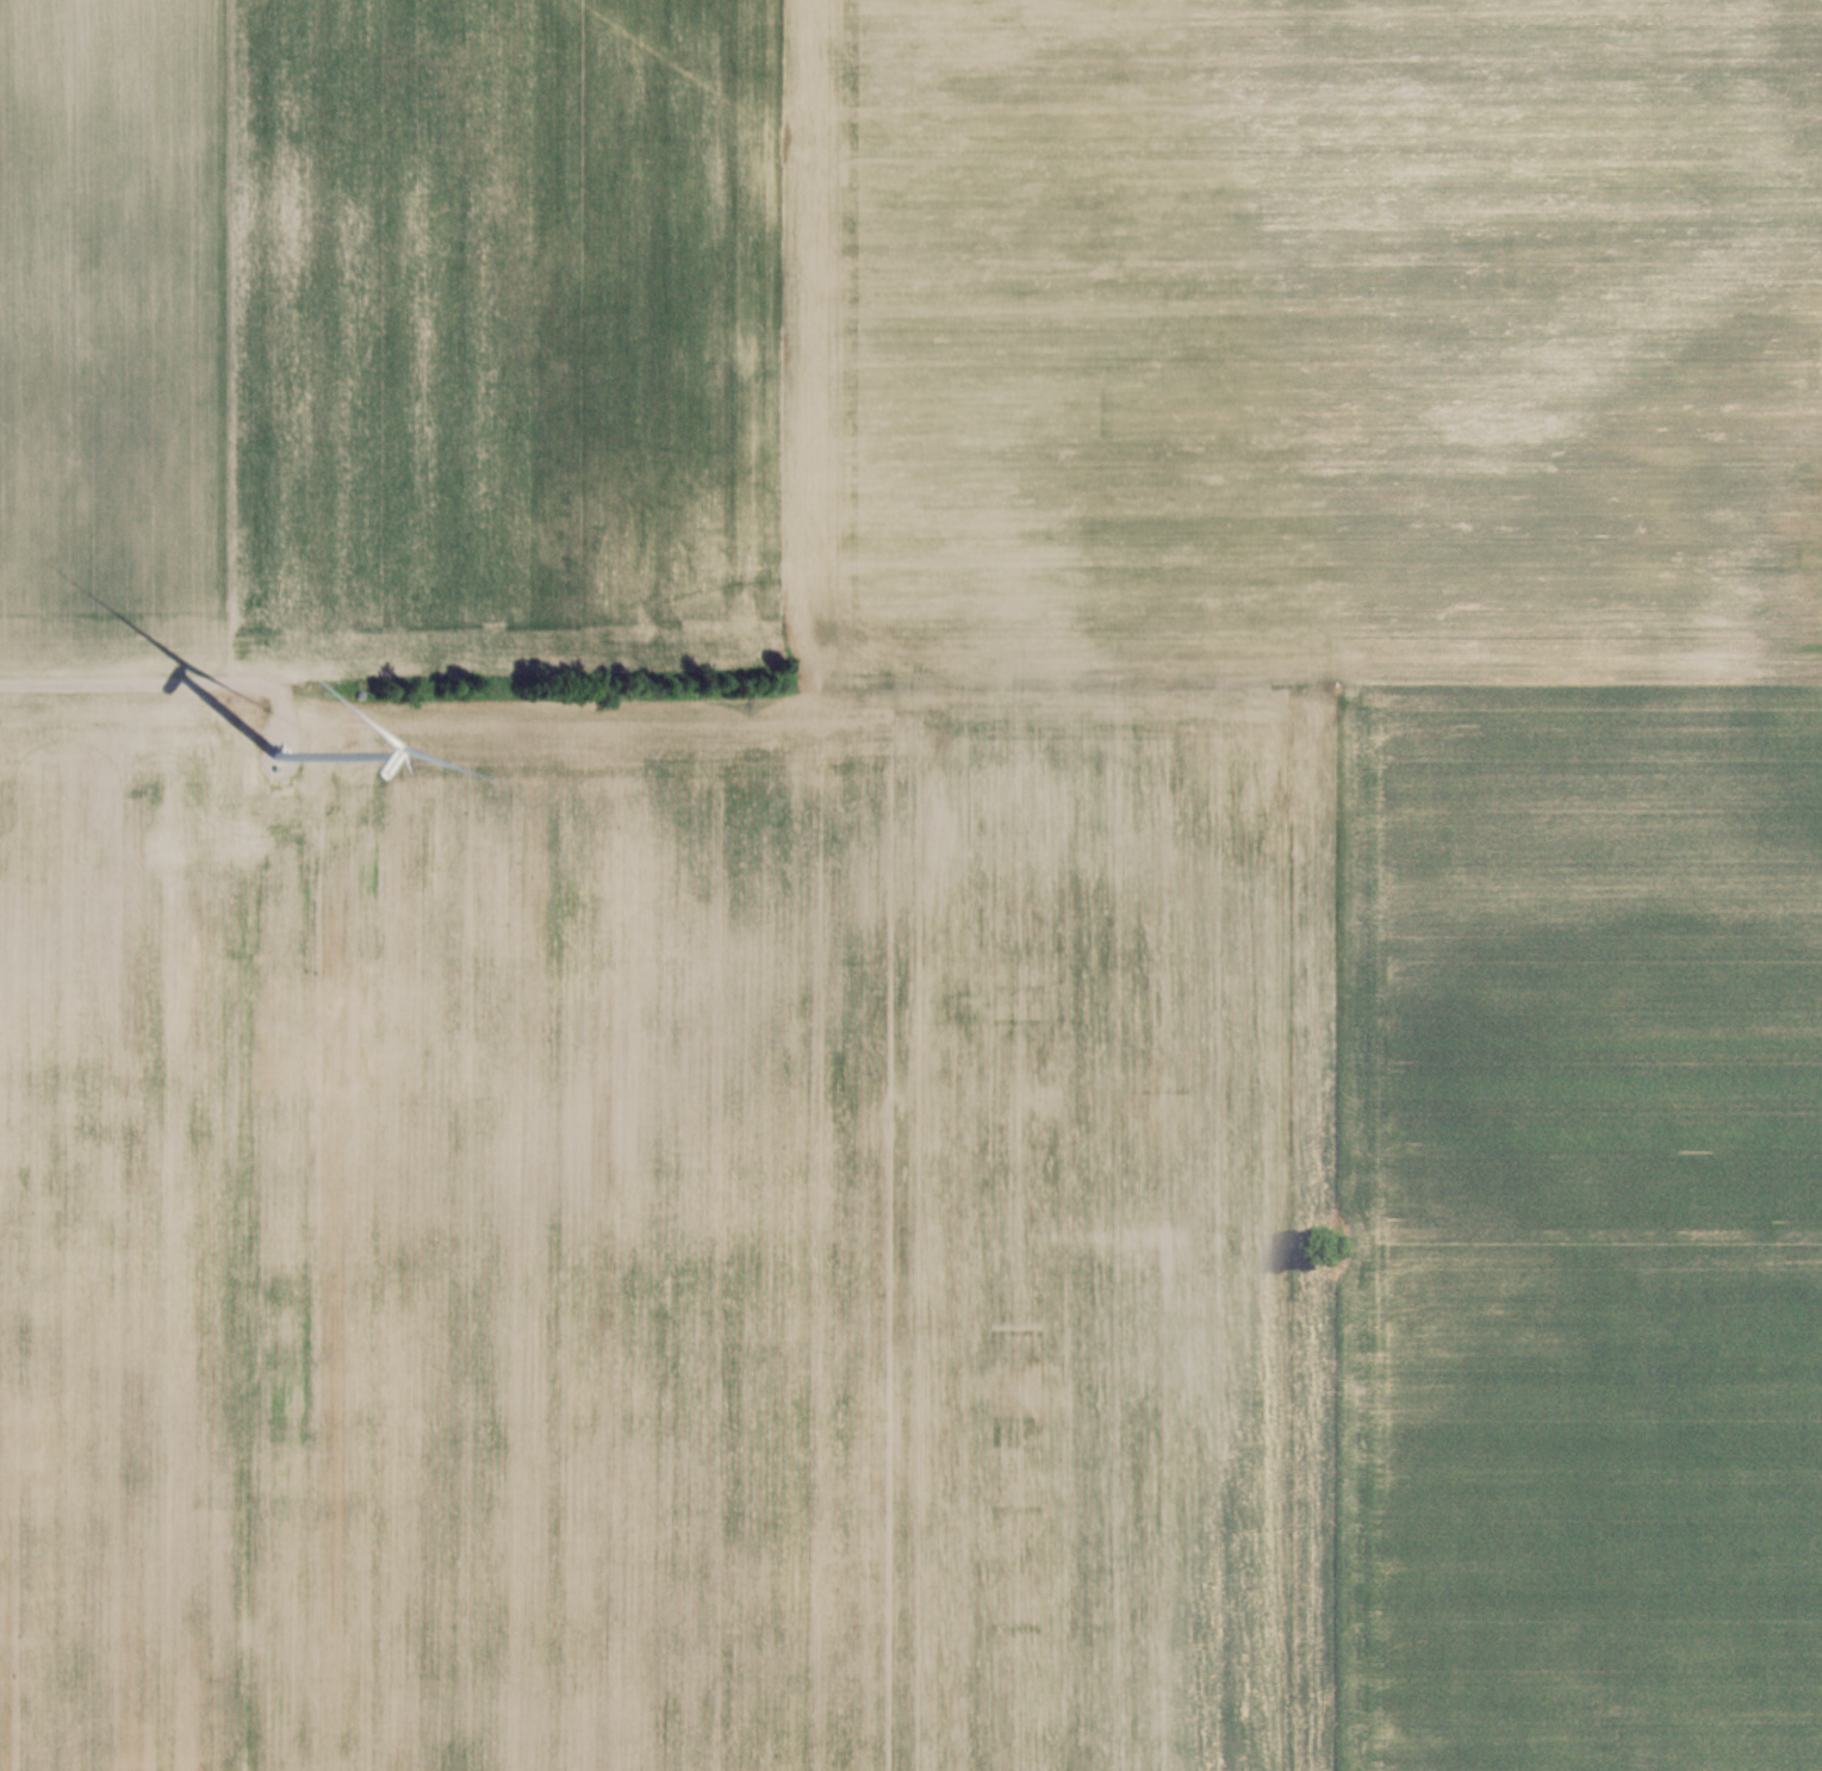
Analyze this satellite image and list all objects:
road: (151, 681)
wind turbine: (187, 765)

